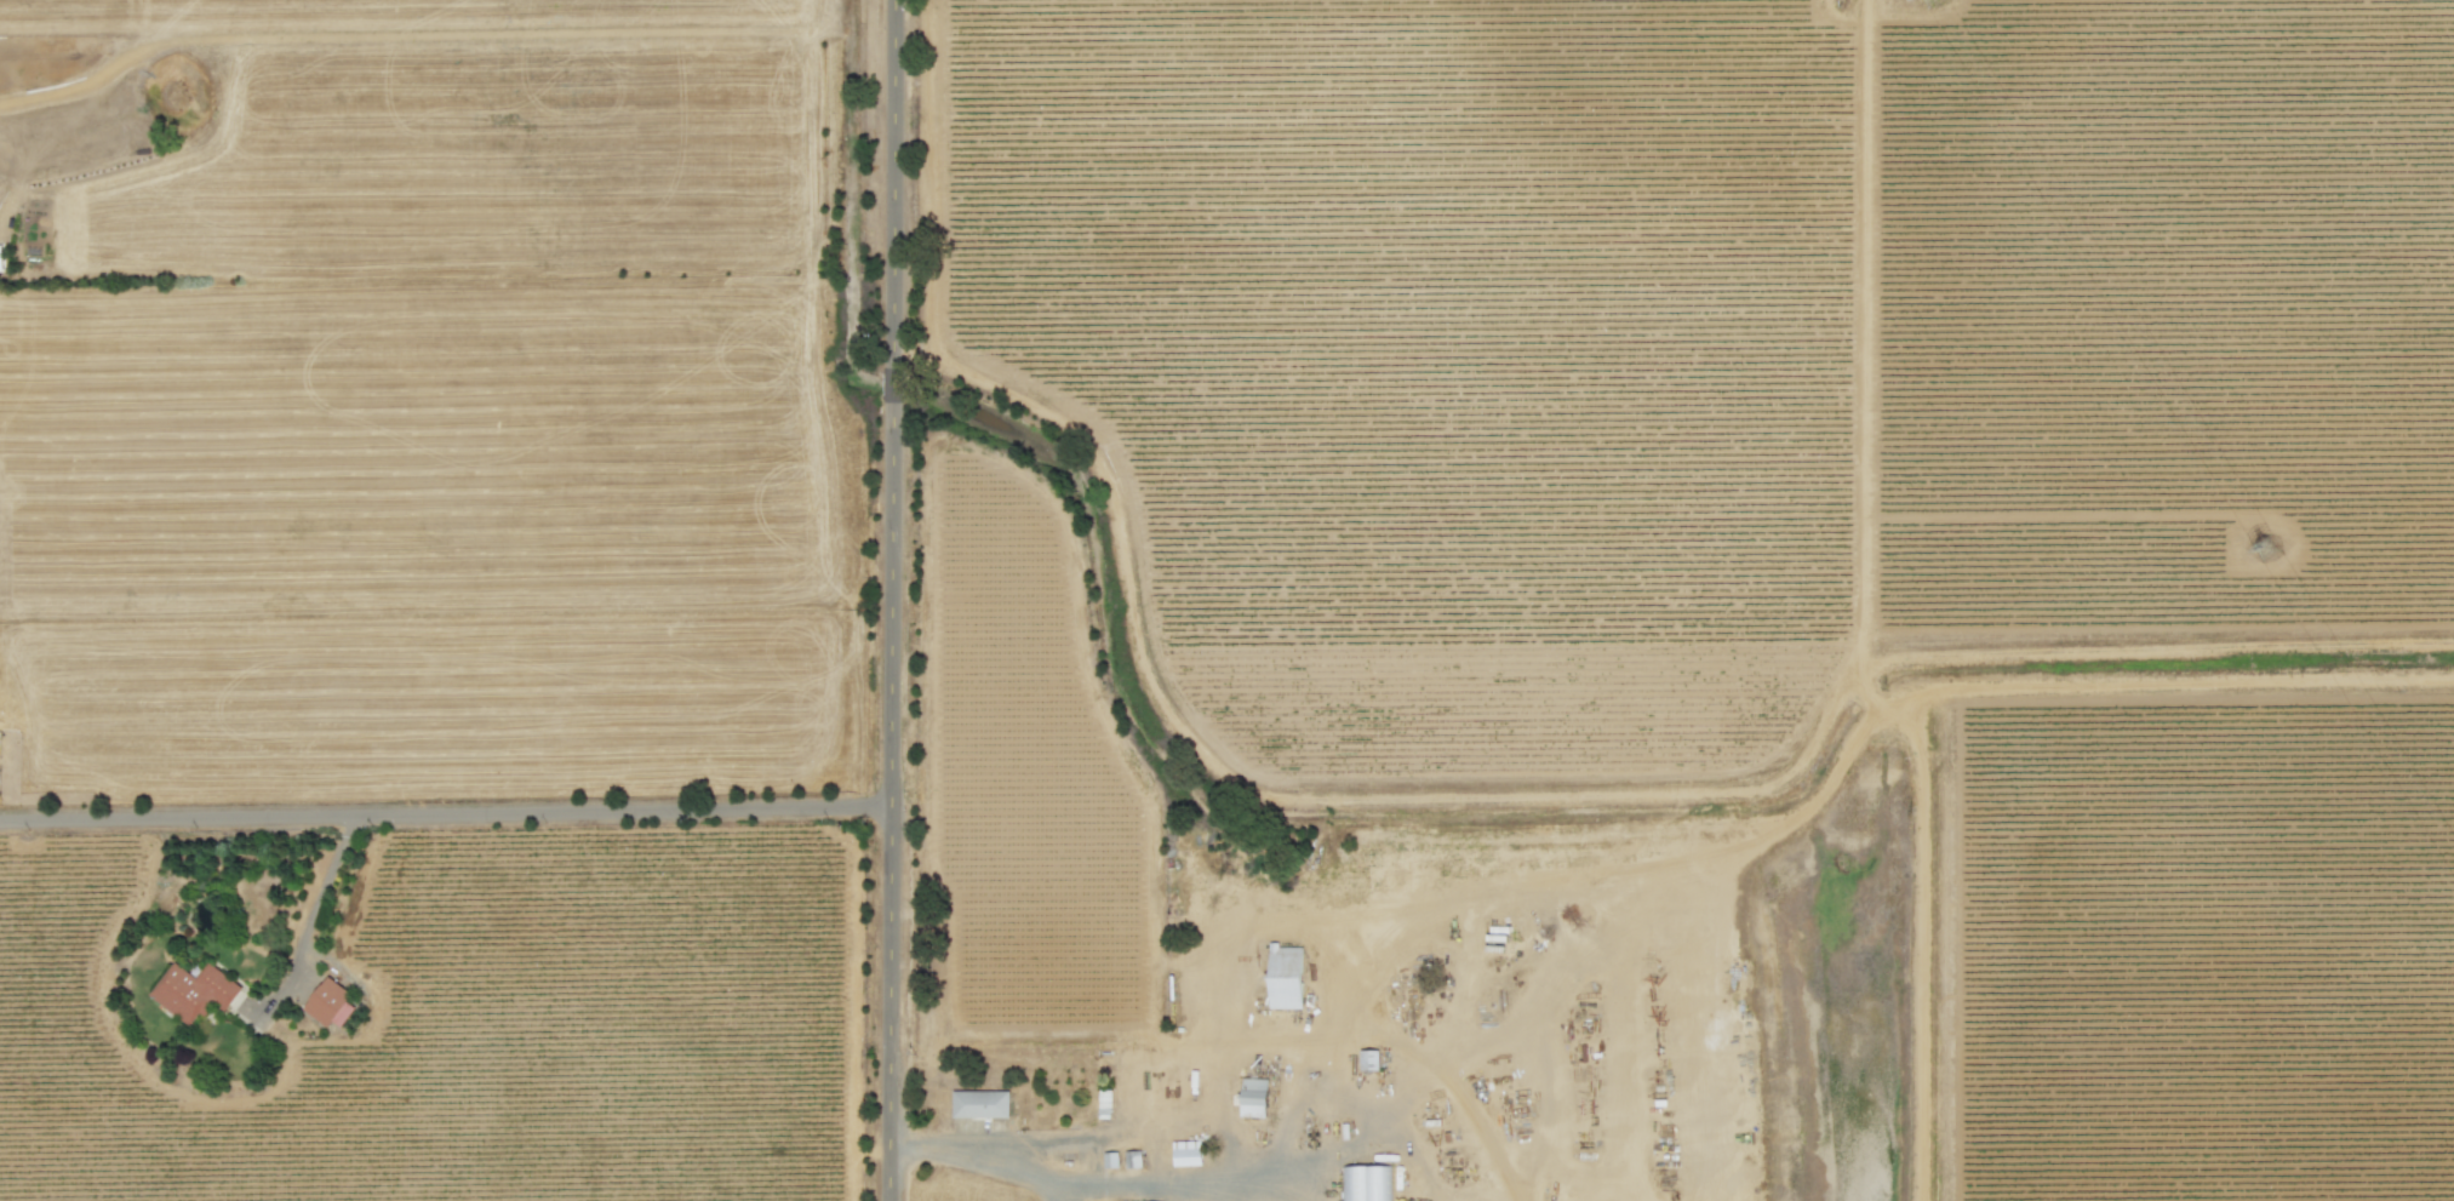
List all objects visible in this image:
building: (0, 258)
power tower: (2258, 548)
road: (893, 600)
road: (446, 811)
road: (311, 915)
building: (1285, 977)
building: (194, 991)
building: (331, 1003)
building: (1368, 1059)
building: (1253, 1100)
building: (980, 1104)
building: (1186, 1153)
road: (979, 1156)
building: (1366, 1183)
road: (1123, 1184)
road: (1062, 1190)

